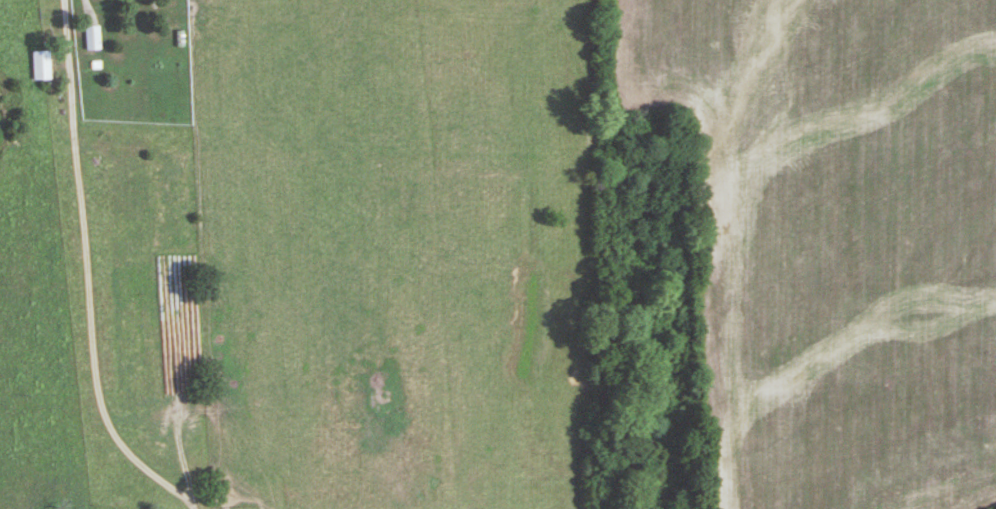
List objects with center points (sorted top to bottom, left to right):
building: (91, 38)
building: (40, 65)
road: (85, 273)

